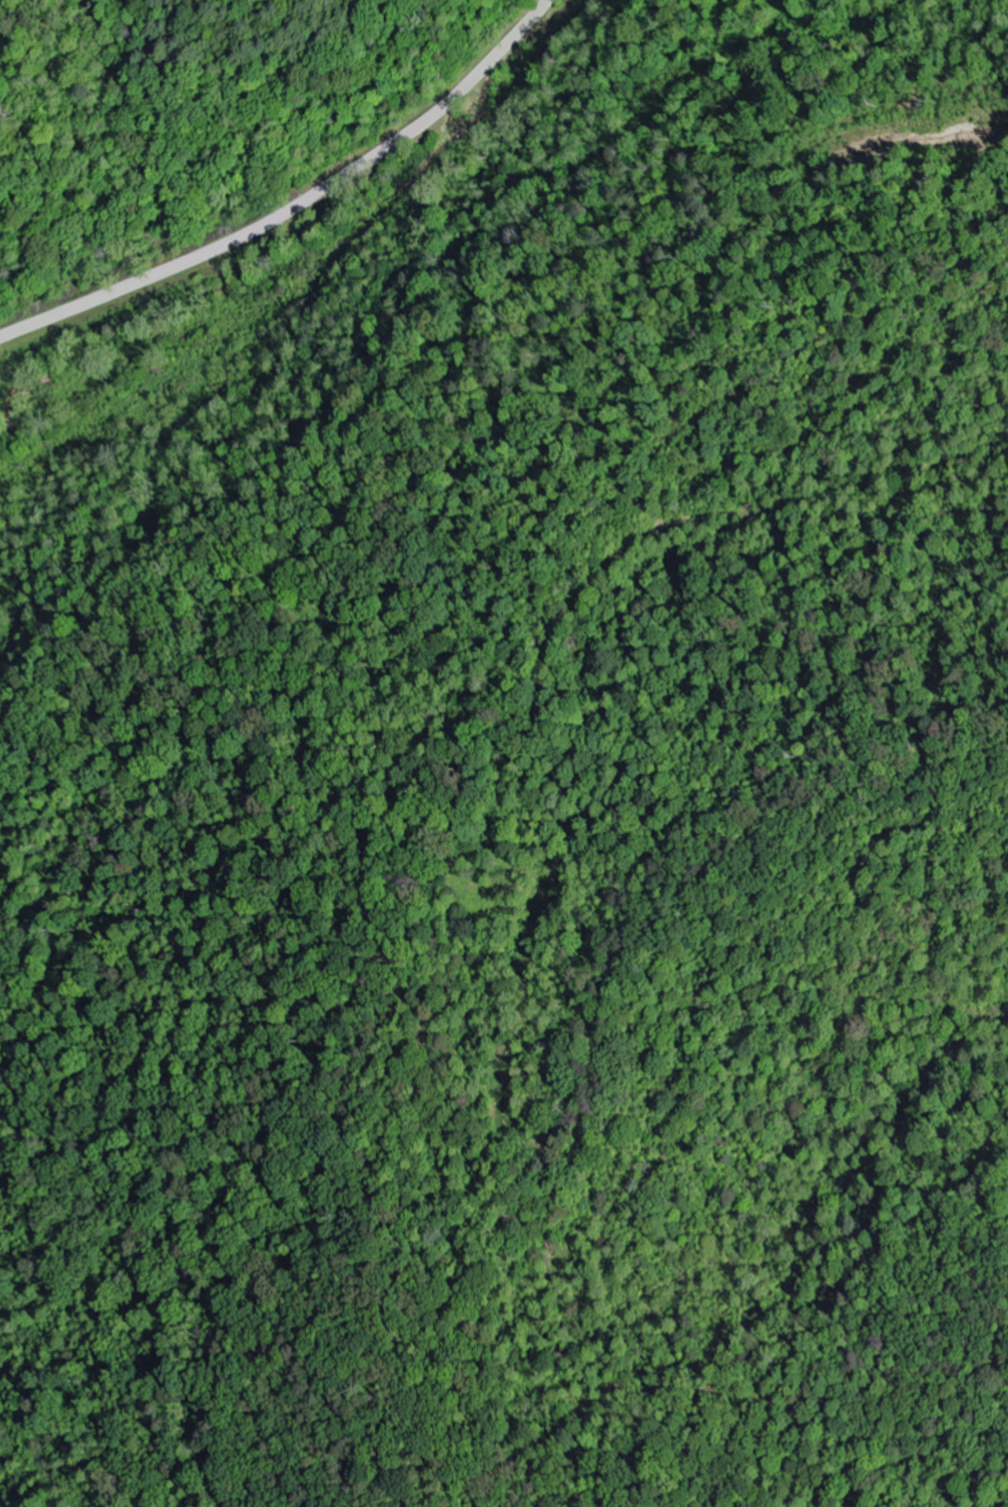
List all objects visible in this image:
road: (297, 205)

